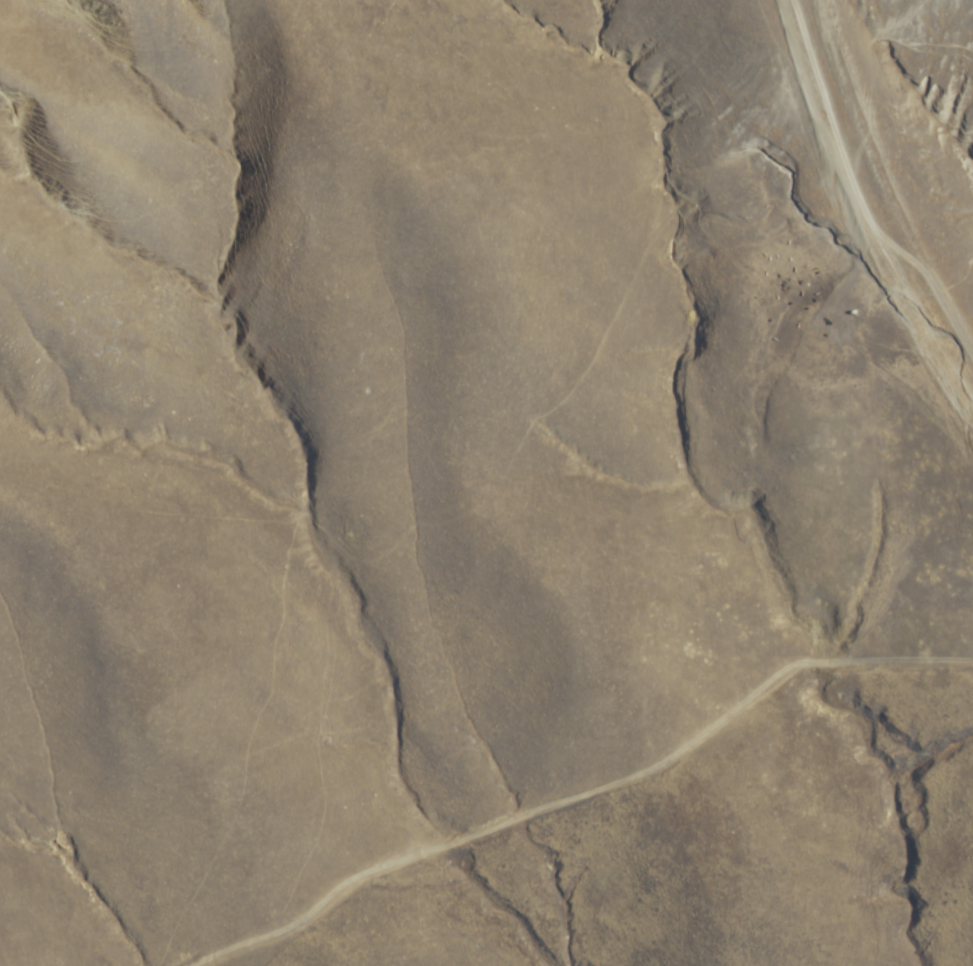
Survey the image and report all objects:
road: (860, 275)

